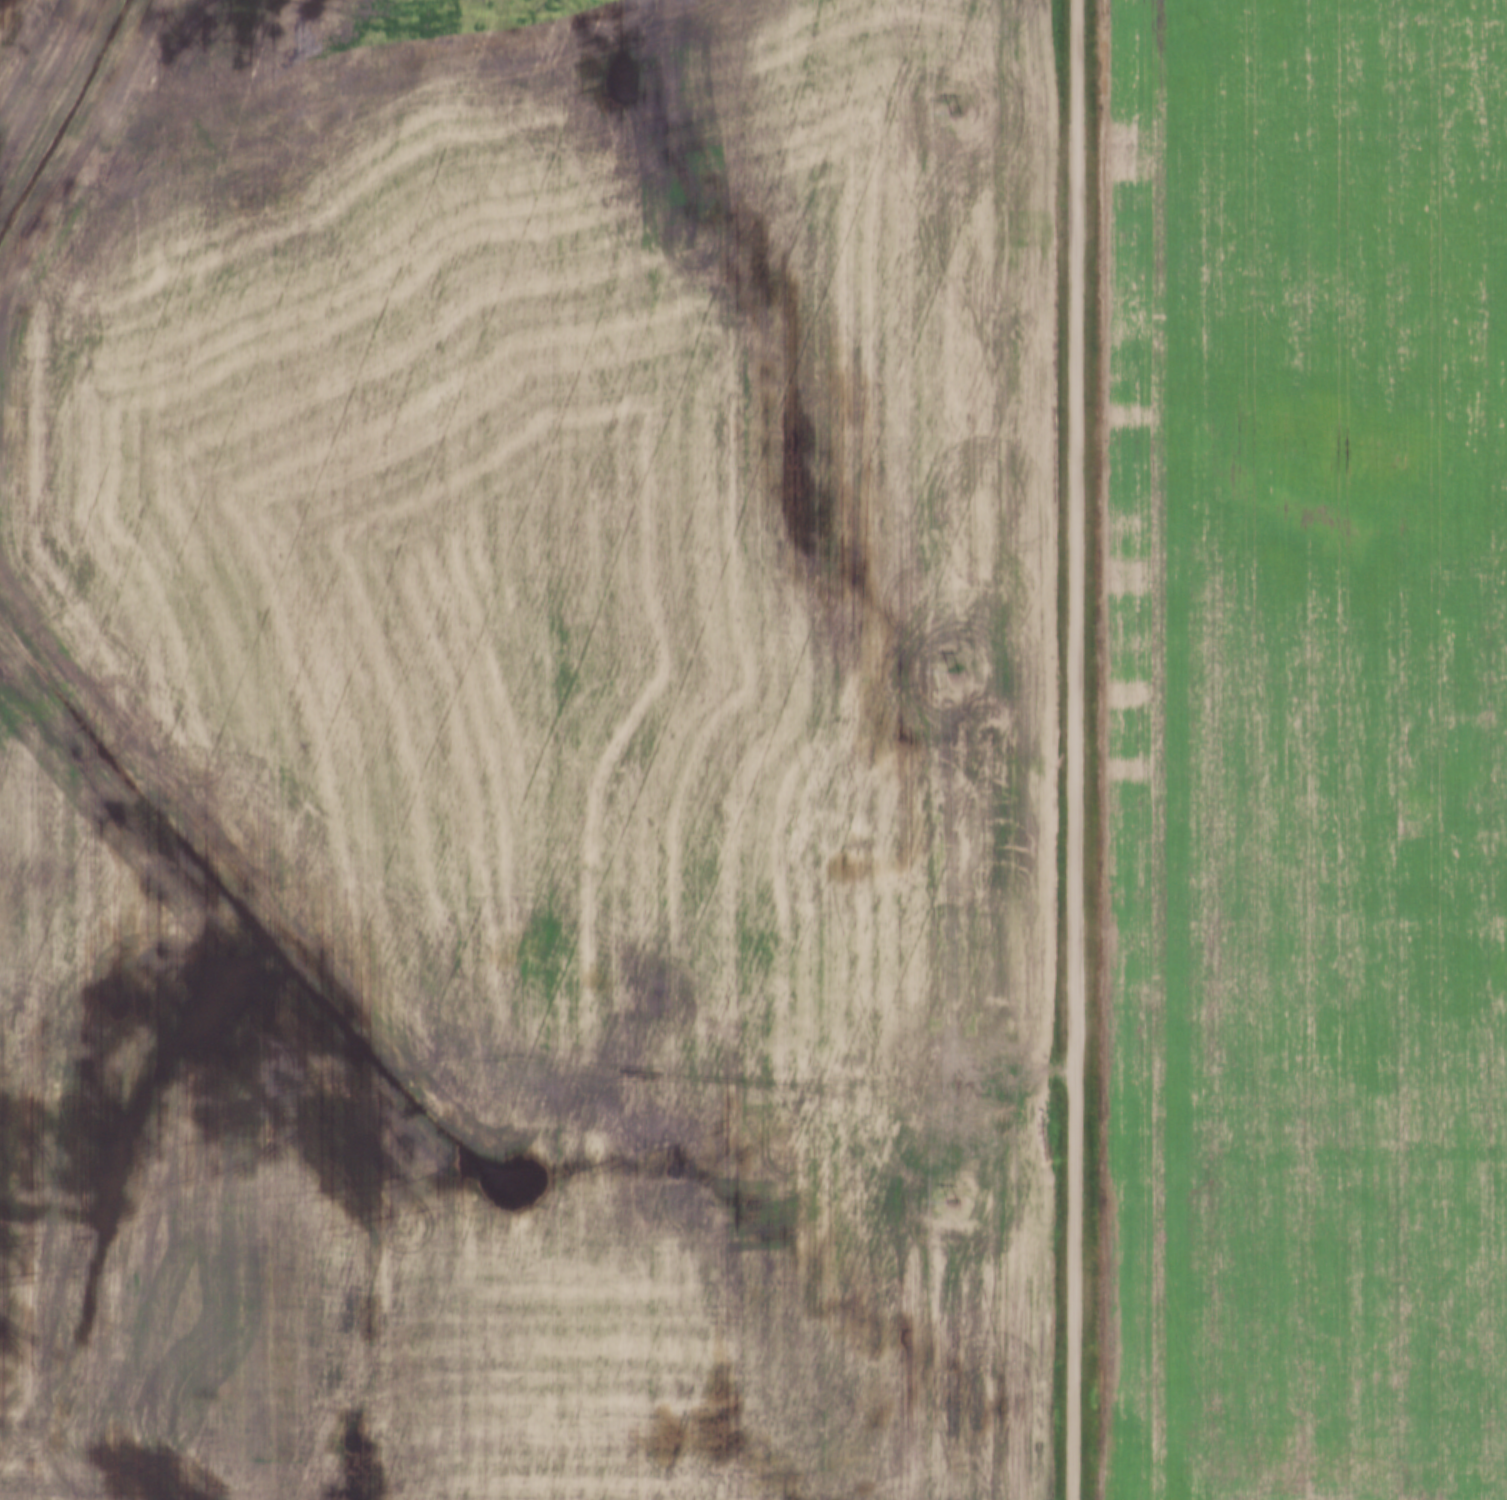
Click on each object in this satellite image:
road: (1078, 750)

